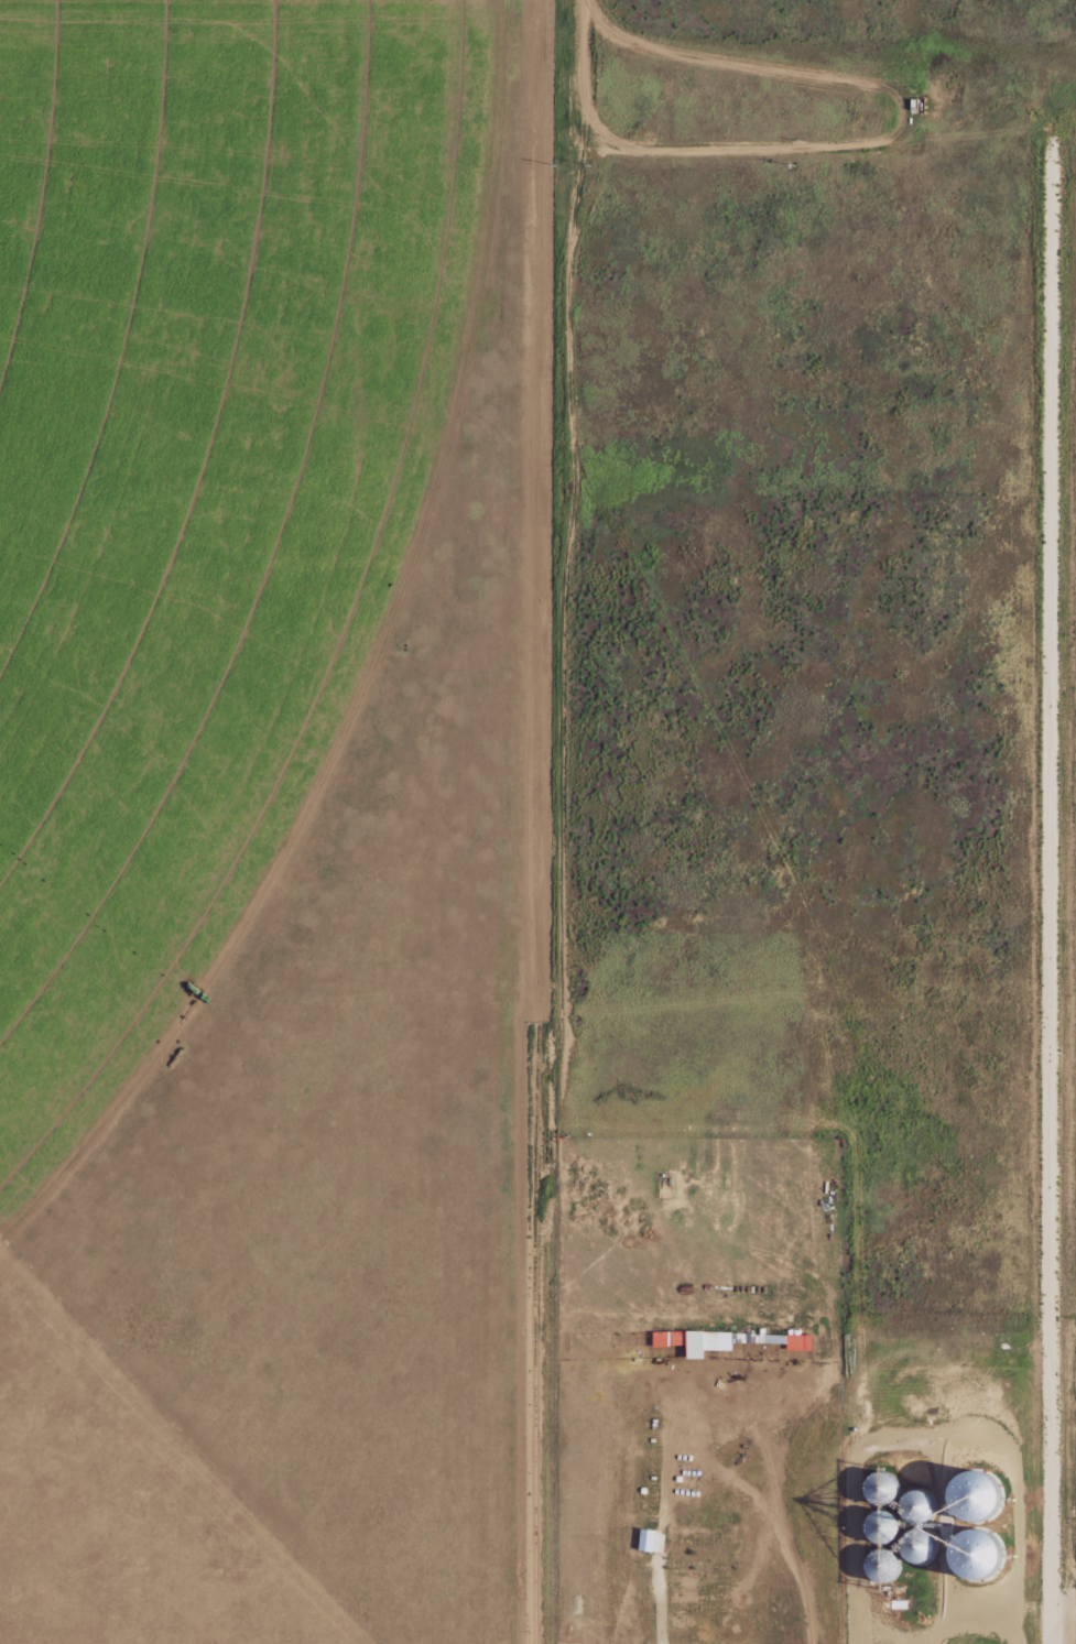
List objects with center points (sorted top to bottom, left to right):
building: (695, 1340)
building: (879, 1489)
building: (969, 1498)
building: (915, 1506)
building: (880, 1527)
building: (646, 1539)
building: (907, 1554)
building: (972, 1555)

